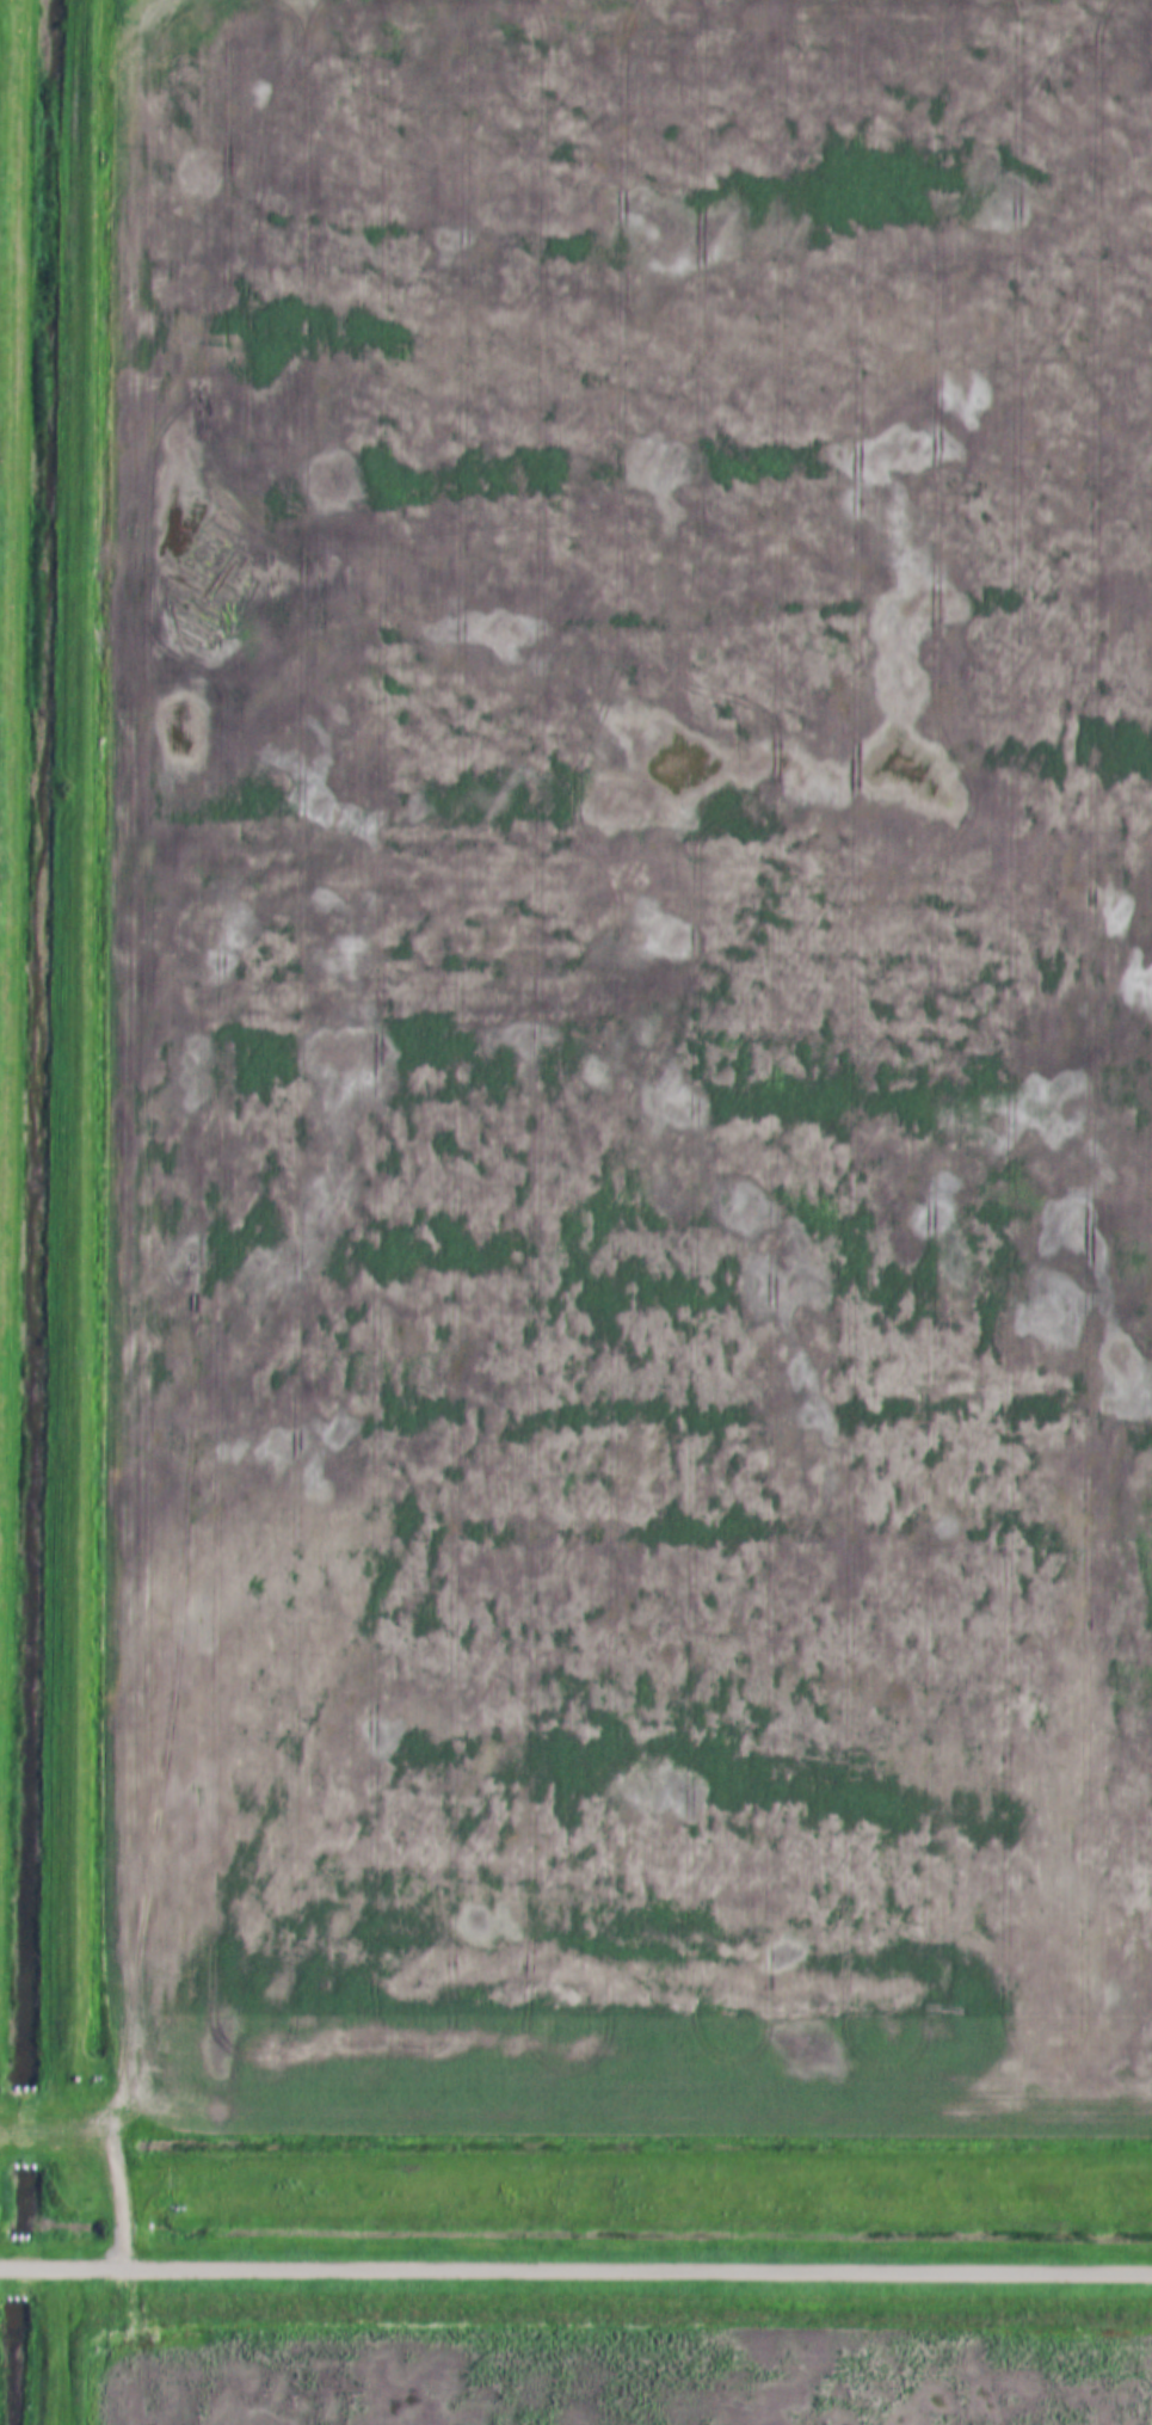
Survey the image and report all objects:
road: (575, 2273)

